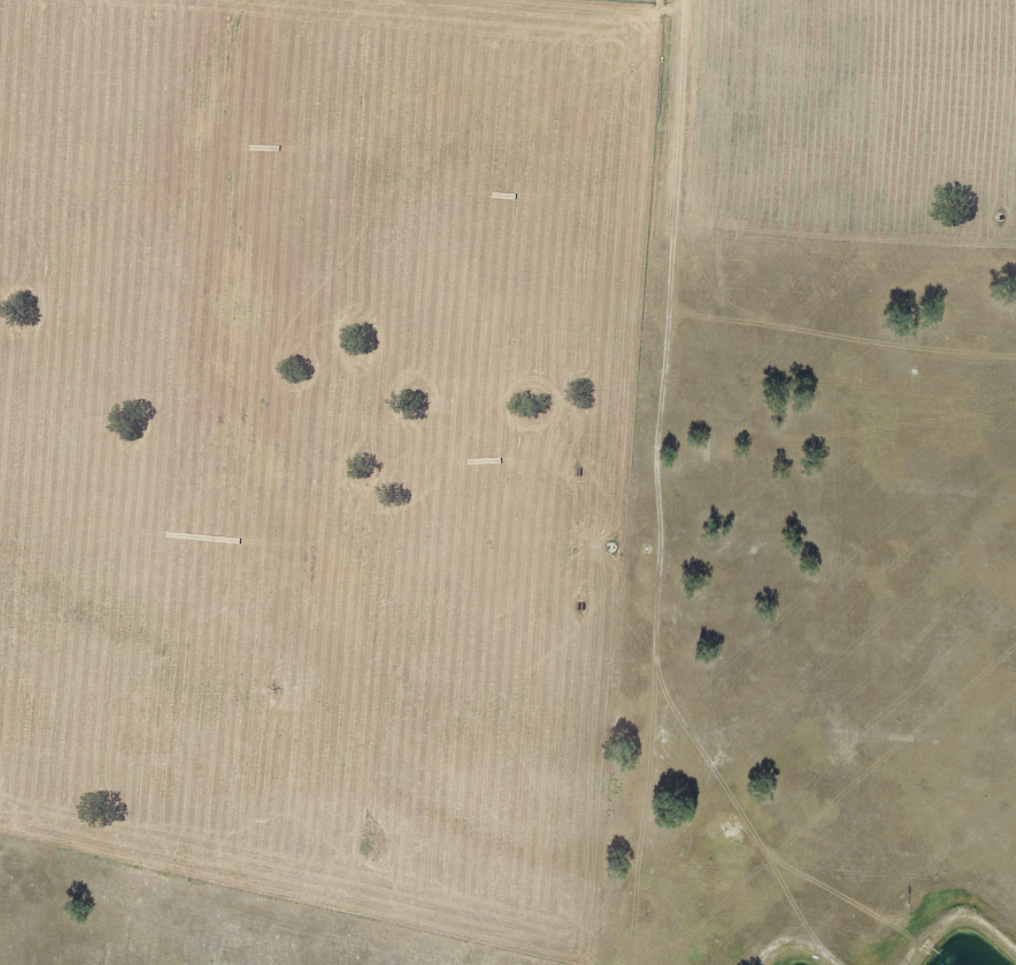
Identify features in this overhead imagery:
road: (656, 482)

